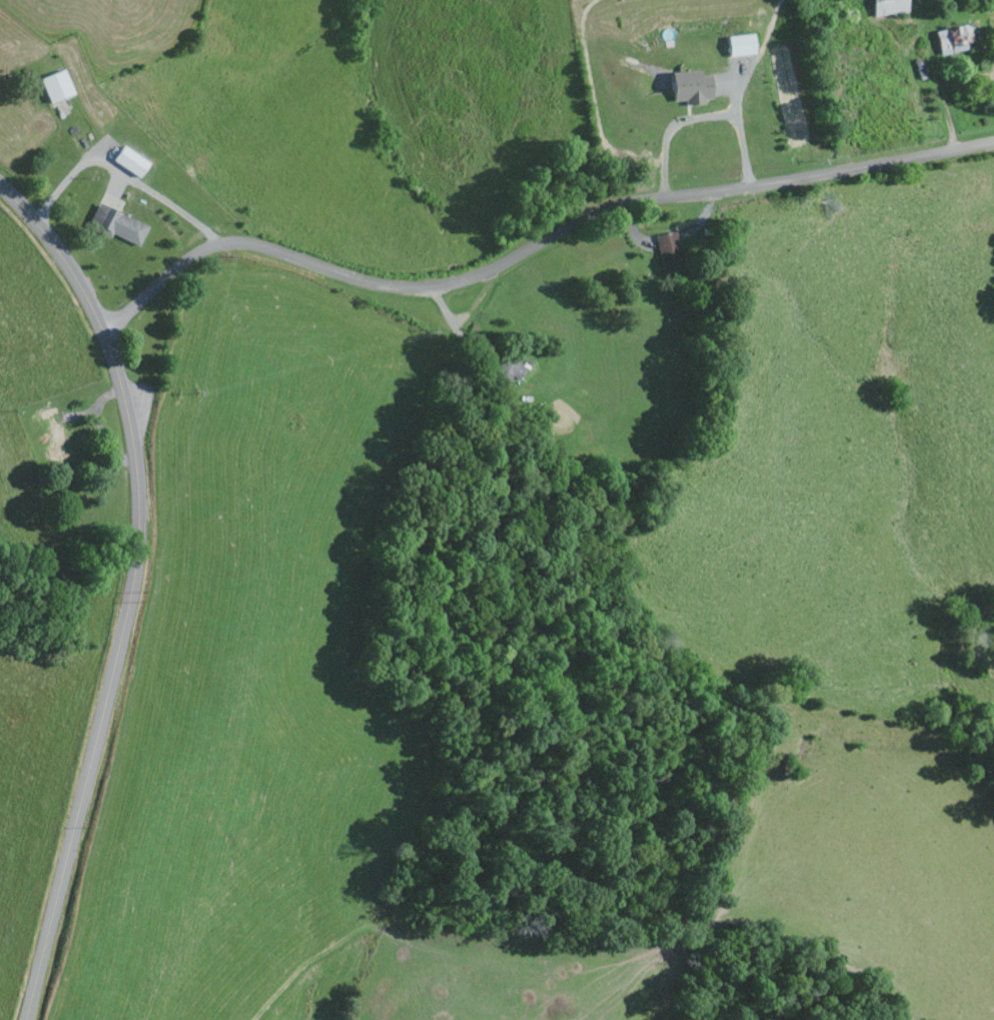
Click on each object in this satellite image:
building: (889, 8)
building: (950, 43)
building: (741, 48)
road: (989, 50)
building: (57, 89)
building: (692, 90)
building: (130, 164)
road: (121, 172)
building: (118, 228)
road: (532, 250)
road: (456, 330)
road: (133, 590)

